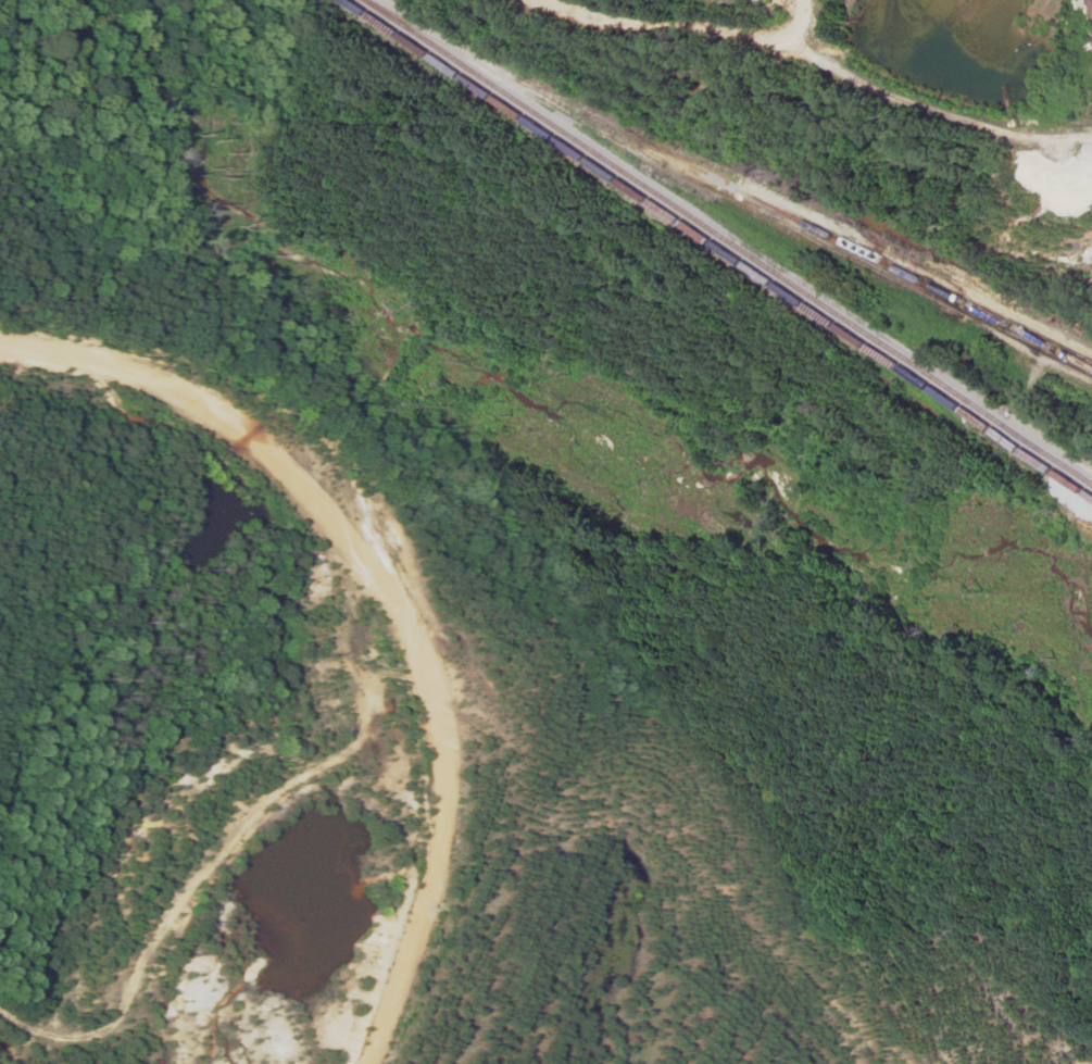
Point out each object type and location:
railway: (729, 240)
railway: (719, 249)
railway: (1070, 461)

